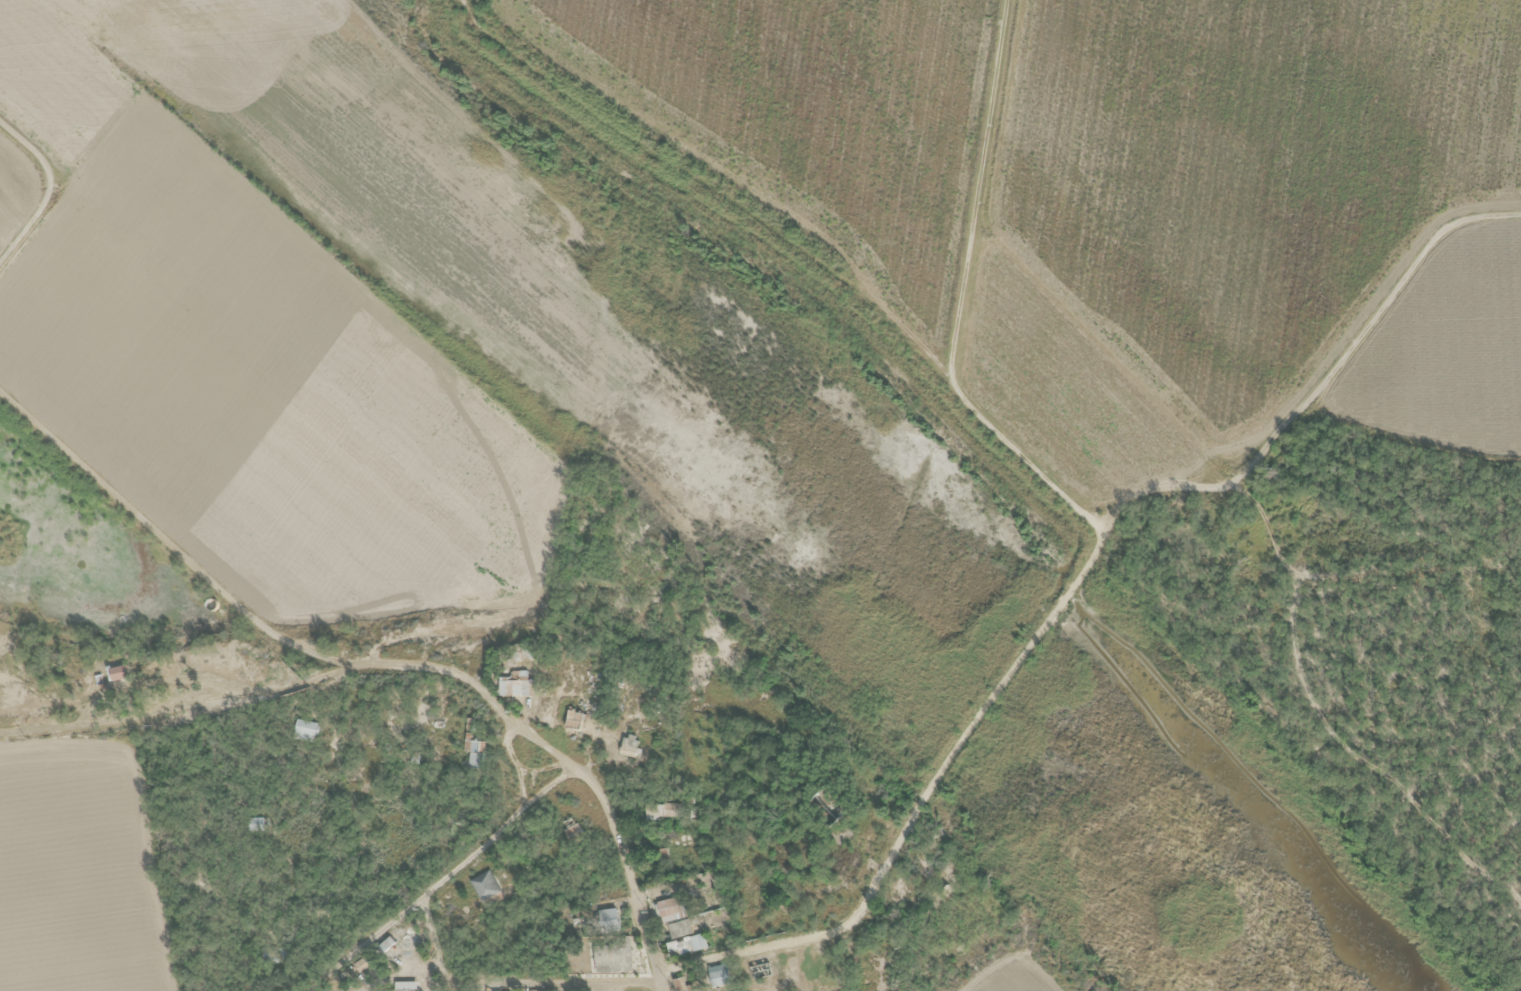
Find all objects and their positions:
road: (54, 187)
road: (1050, 479)
road: (181, 546)

